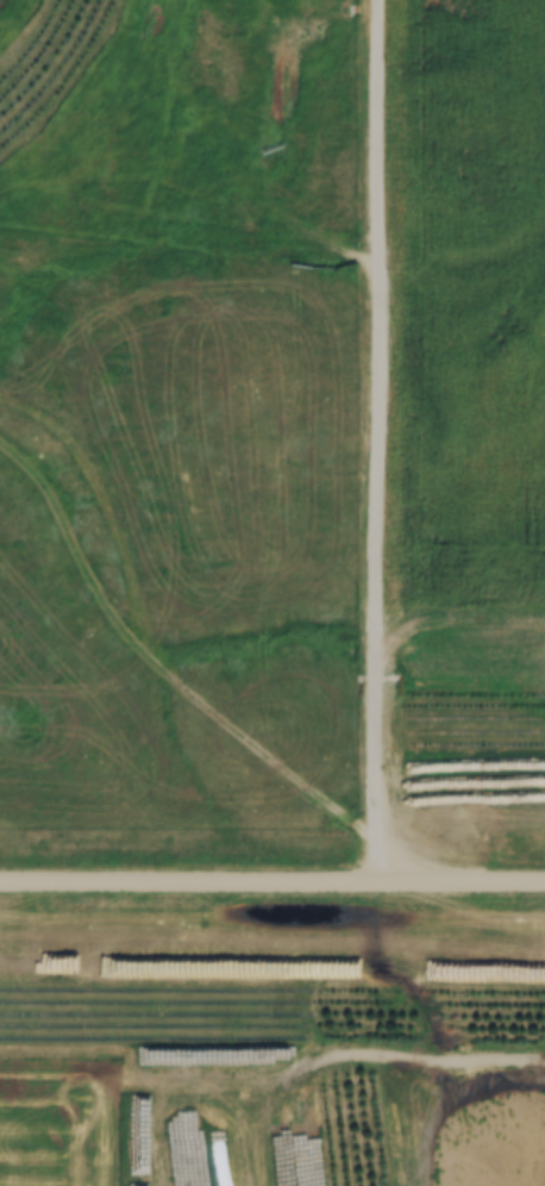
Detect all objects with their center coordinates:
road: (271, 879)

